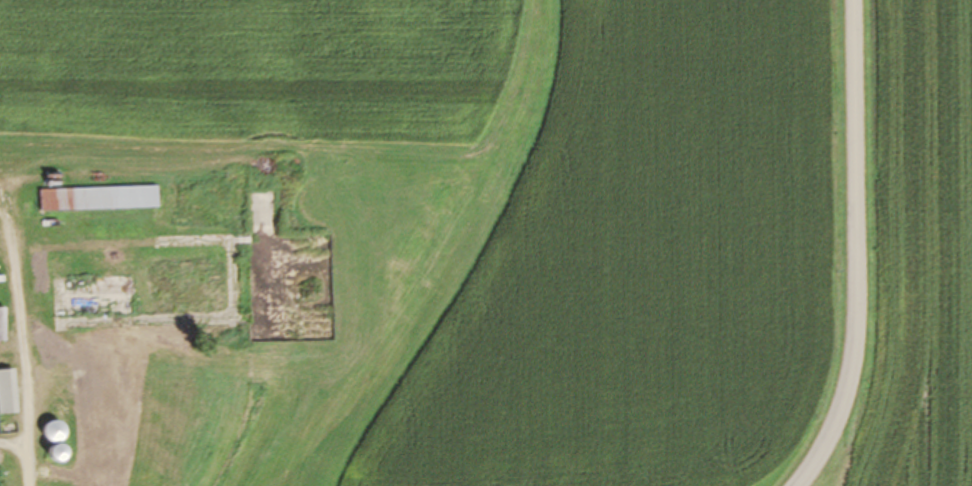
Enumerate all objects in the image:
building: (94, 199)
road: (853, 249)
building: (0, 325)
building: (5, 393)
building: (93, 429)

